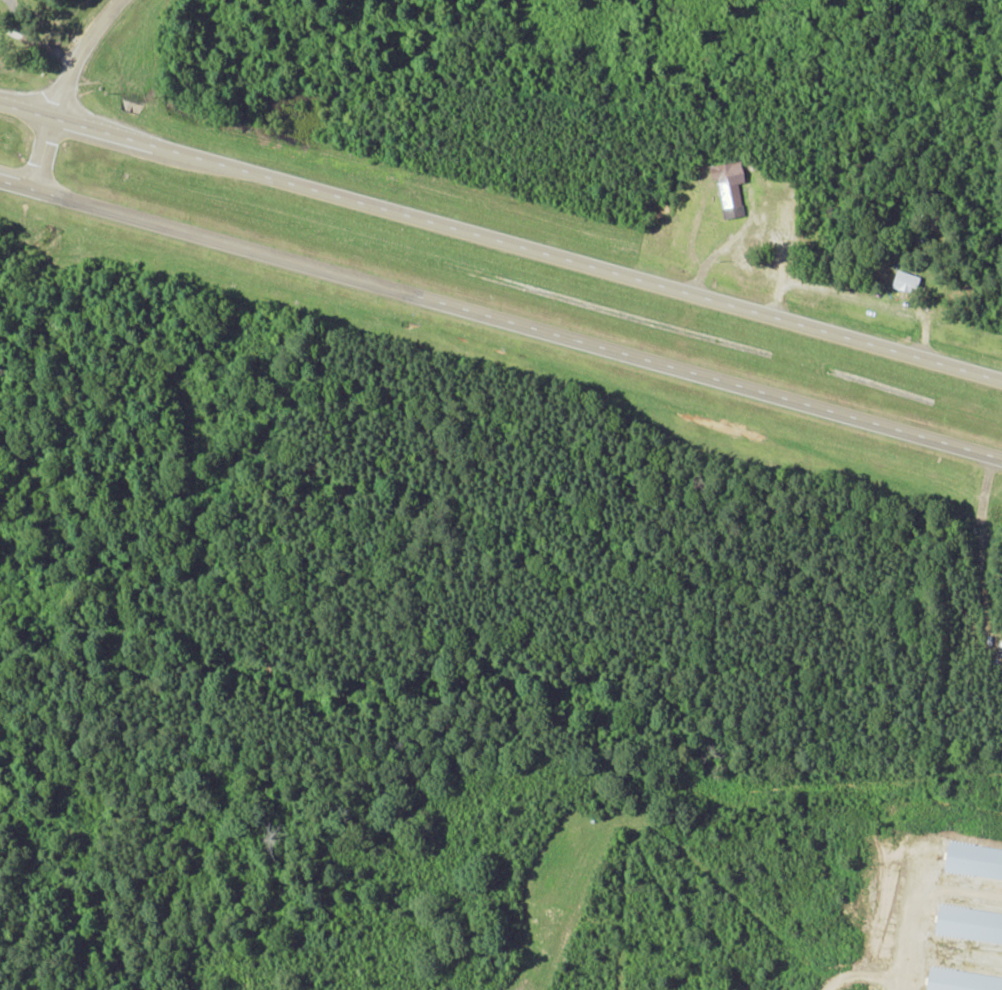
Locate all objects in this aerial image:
road: (64, 89)
building: (730, 187)
road: (501, 243)
building: (907, 281)
road: (501, 320)
building: (975, 861)
building: (969, 926)
building: (962, 981)

